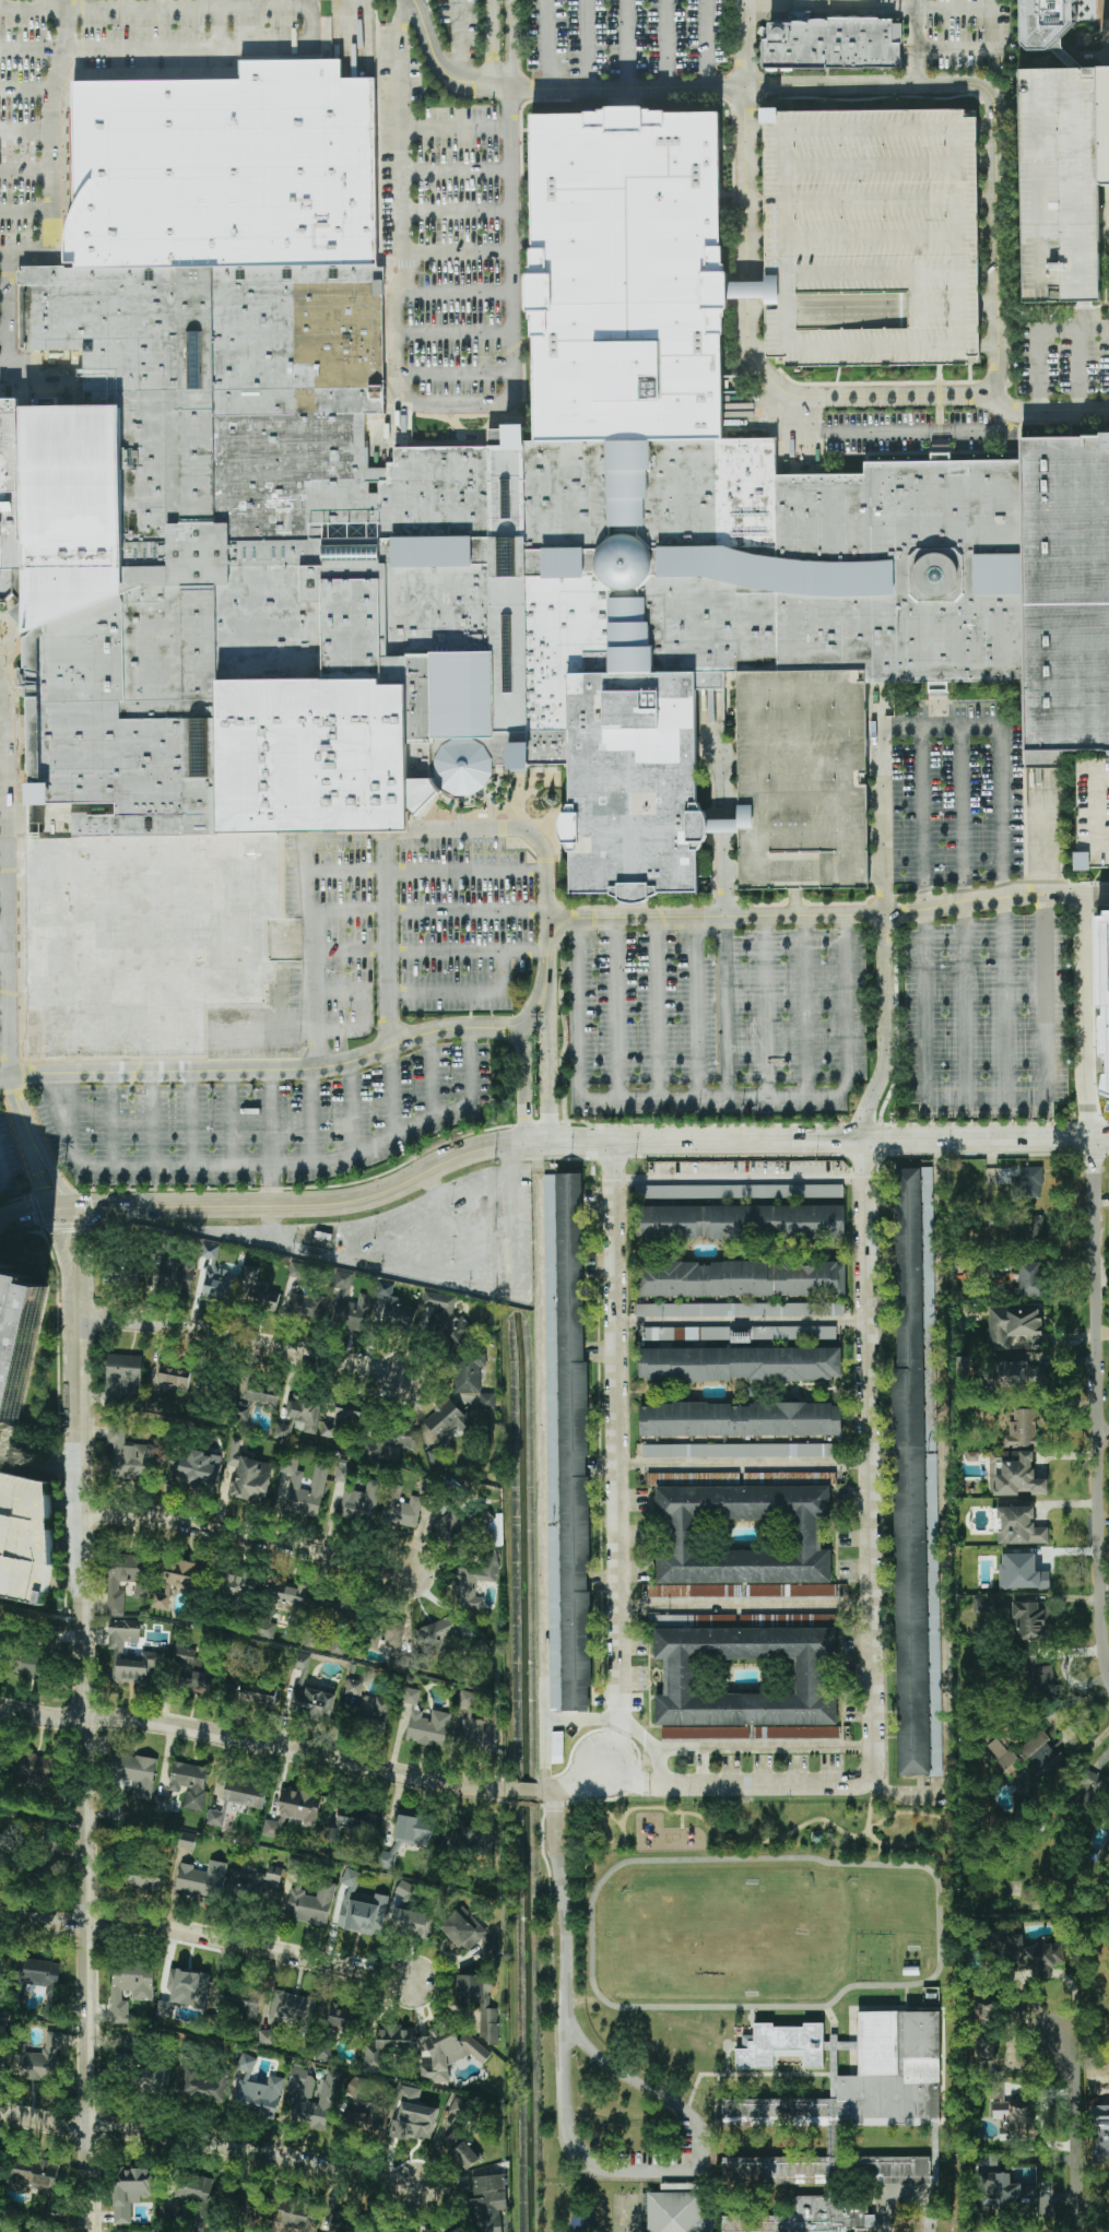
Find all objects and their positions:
road: (331, 0)
road: (779, 4)
road: (810, 4)
road: (913, 4)
road: (82, 8)
road: (864, 10)
road: (991, 13)
building: (1041, 21)
road: (220, 25)
road: (82, 26)
parking lot: (461, 26)
road: (311, 28)
parking lot: (178, 31)
parking lot: (626, 36)
road: (459, 39)
road: (511, 43)
road: (705, 43)
road: (547, 44)
road: (586, 44)
road: (626, 44)
road: (664, 44)
building: (831, 44)
road: (491, 45)
road: (82, 47)
road: (953, 50)
building: (1055, 56)
road: (1057, 57)
road: (82, 67)
road: (225, 74)
road: (849, 84)
road: (25, 91)
parking lot: (20, 114)
building: (1104, 122)
road: (457, 128)
road: (25, 132)
road: (744, 138)
building: (225, 169)
road: (25, 170)
road: (457, 170)
building: (1058, 182)
parking lot: (1058, 182)
road: (50, 205)
road: (25, 211)
road: (457, 213)
parking lot: (441, 226)
building: (871, 238)
parking lot: (871, 238)
road: (459, 252)
road: (3, 256)
building: (743, 286)
road: (746, 286)
road: (743, 287)
road: (456, 293)
road: (3, 295)
road: (1047, 315)
road: (1081, 315)
road: (2, 334)
road: (453, 334)
road: (1033, 334)
road: (455, 373)
road: (1075, 373)
road: (828, 398)
road: (411, 401)
road: (1063, 414)
road: (893, 433)
road: (1, 472)
building: (1, 473)
building: (455, 583)
road: (15, 617)
road: (10, 628)
road: (2, 690)
road: (17, 717)
road: (2, 731)
road: (722, 768)
road: (1061, 769)
road: (2, 770)
building: (802, 781)
parking lot: (802, 781)
parking lot: (957, 794)
road: (2, 811)
building: (1092, 815)
parking lot: (1092, 815)
building: (718, 823)
road: (718, 824)
road: (723, 824)
road: (403, 834)
road: (2, 851)
road: (1002, 853)
road: (425, 871)
road: (723, 874)
road: (1045, 884)
road: (2, 891)
road: (794, 904)
road: (428, 911)
road: (964, 913)
road: (828, 917)
road: (884, 918)
road: (269, 920)
parking lot: (465, 922)
road: (2, 930)
parking lot: (333, 932)
road: (308, 941)
road: (388, 941)
road: (5, 948)
road: (432, 950)
road: (2, 968)
road: (467, 992)
building: (1100, 994)
road: (616, 1006)
road: (656, 1006)
road: (697, 1006)
road: (724, 1006)
road: (766, 1006)
road: (804, 1006)
road: (3, 1012)
parking lot: (987, 1016)
road: (1084, 1016)
parking lot: (718, 1021)
road: (330, 1031)
parking lot: (258, 1046)
road: (3, 1050)
road: (276, 1070)
road: (430, 1072)
road: (927, 1076)
road: (5, 1078)
road: (524, 1082)
road: (548, 1082)
road: (391, 1091)
road: (710, 1096)
road: (352, 1108)
road: (311, 1114)
road: (231, 1118)
road: (151, 1119)
road: (189, 1119)
road: (110, 1120)
parking lot: (266, 1122)
road: (271, 1137)
road: (547, 1141)
parking lot: (9, 1160)
road: (268, 1165)
building: (682, 1167)
road: (3, 1177)
road: (740, 1179)
road: (429, 1181)
building: (1030, 1182)
building: (740, 1191)
traffic signals: (60, 1208)
road: (271, 1215)
building: (739, 1221)
building: (1030, 1227)
parking lot: (427, 1237)
building: (217, 1277)
building: (743, 1278)
building: (343, 1279)
building: (1029, 1279)
building: (258, 1289)
building: (305, 1306)
building: (393, 1308)
building: (739, 1310)
building: (446, 1315)
road: (742, 1321)
building: (1014, 1326)
building: (793, 1333)
building: (696, 1334)
building: (16, 1336)
road: (246, 1337)
building: (740, 1363)
building: (964, 1366)
building: (469, 1372)
building: (175, 1373)
building: (1013, 1374)
building: (121, 1378)
building: (251, 1397)
building: (487, 1401)
road: (1100, 1403)
building: (305, 1413)
building: (344, 1419)
building: (740, 1419)
building: (1022, 1429)
building: (283, 1431)
road: (1105, 1433)
building: (932, 1438)
building: (387, 1439)
building: (567, 1442)
building: (740, 1450)
building: (128, 1456)
road: (618, 1462)
road: (744, 1462)
road: (39, 1463)
road: (870, 1463)
road: (542, 1464)
building: (199, 1469)
building: (342, 1471)
building: (1014, 1474)
building: (248, 1475)
building: (916, 1475)
building: (318, 1481)
building: (427, 1487)
building: (361, 1502)
road: (951, 1502)
road: (64, 1504)
building: (400, 1508)
building: (451, 1525)
building: (1019, 1526)
road: (248, 1533)
building: (25, 1538)
parking lot: (25, 1538)
building: (744, 1540)
road: (66, 1543)
building: (1022, 1572)
building: (122, 1580)
building: (179, 1580)
road: (66, 1581)
building: (475, 1583)
building: (237, 1584)
building: (288, 1598)
road: (746, 1604)
building: (983, 1604)
building: (334, 1613)
building: (1028, 1621)
building: (266, 1629)
building: (439, 1632)
building: (382, 1634)
building: (312, 1640)
building: (118, 1651)
building: (31, 1665)
building: (1037, 1669)
building: (196, 1673)
building: (745, 1685)
building: (354, 1687)
building: (308, 1694)
building: (411, 1696)
building: (256, 1699)
building: (374, 1710)
road: (583, 1716)
road: (86, 1719)
building: (476, 1726)
building: (428, 1728)
road: (256, 1739)
building: (557, 1747)
road: (742, 1747)
building: (1036, 1750)
building: (1001, 1753)
building: (36, 1768)
building: (134, 1773)
building: (189, 1783)
road: (704, 1783)
road: (524, 1787)
road: (544, 1788)
building: (1092, 1788)
building: (238, 1797)
building: (162, 1804)
building: (294, 1810)
road: (939, 1818)
road: (683, 1820)
road: (620, 1822)
building: (351, 1823)
park: (759, 1826)
building: (406, 1838)
building: (474, 1839)
road: (742, 1839)
building: (47, 1858)
building: (296, 1867)
building: (273, 1874)
building: (202, 1880)
building: (247, 1882)
building: (143, 1883)
building: (404, 1890)
building: (311, 1903)
road: (566, 1905)
building: (359, 1909)
building: (411, 1923)
building: (477, 1935)
road: (209, 1939)
building: (0, 1960)
building: (38, 1981)
building: (474, 1986)
building: (129, 1987)
building: (185, 1991)
building: (288, 2015)
building: (488, 2024)
building: (781, 2045)
building: (322, 2051)
building: (447, 2051)
building: (42, 2060)
building: (152, 2078)
building: (303, 2081)
building: (204, 2083)
building: (256, 2091)
building: (323, 2103)
building: (364, 2107)
building: (458, 2107)
building: (1012, 2114)
building: (413, 2116)
road: (1076, 2134)
building: (1100, 2136)
road: (212, 2142)
building: (833, 2142)
building: (460, 2149)
road: (620, 2170)
building: (32, 2173)
building: (130, 2190)
building: (1004, 2193)
road: (893, 2197)
building: (290, 2215)
road: (928, 2216)
building: (3, 2220)
building: (335, 2221)
building: (262, 2231)
building: (456, 2231)
building: (583, 2231)

